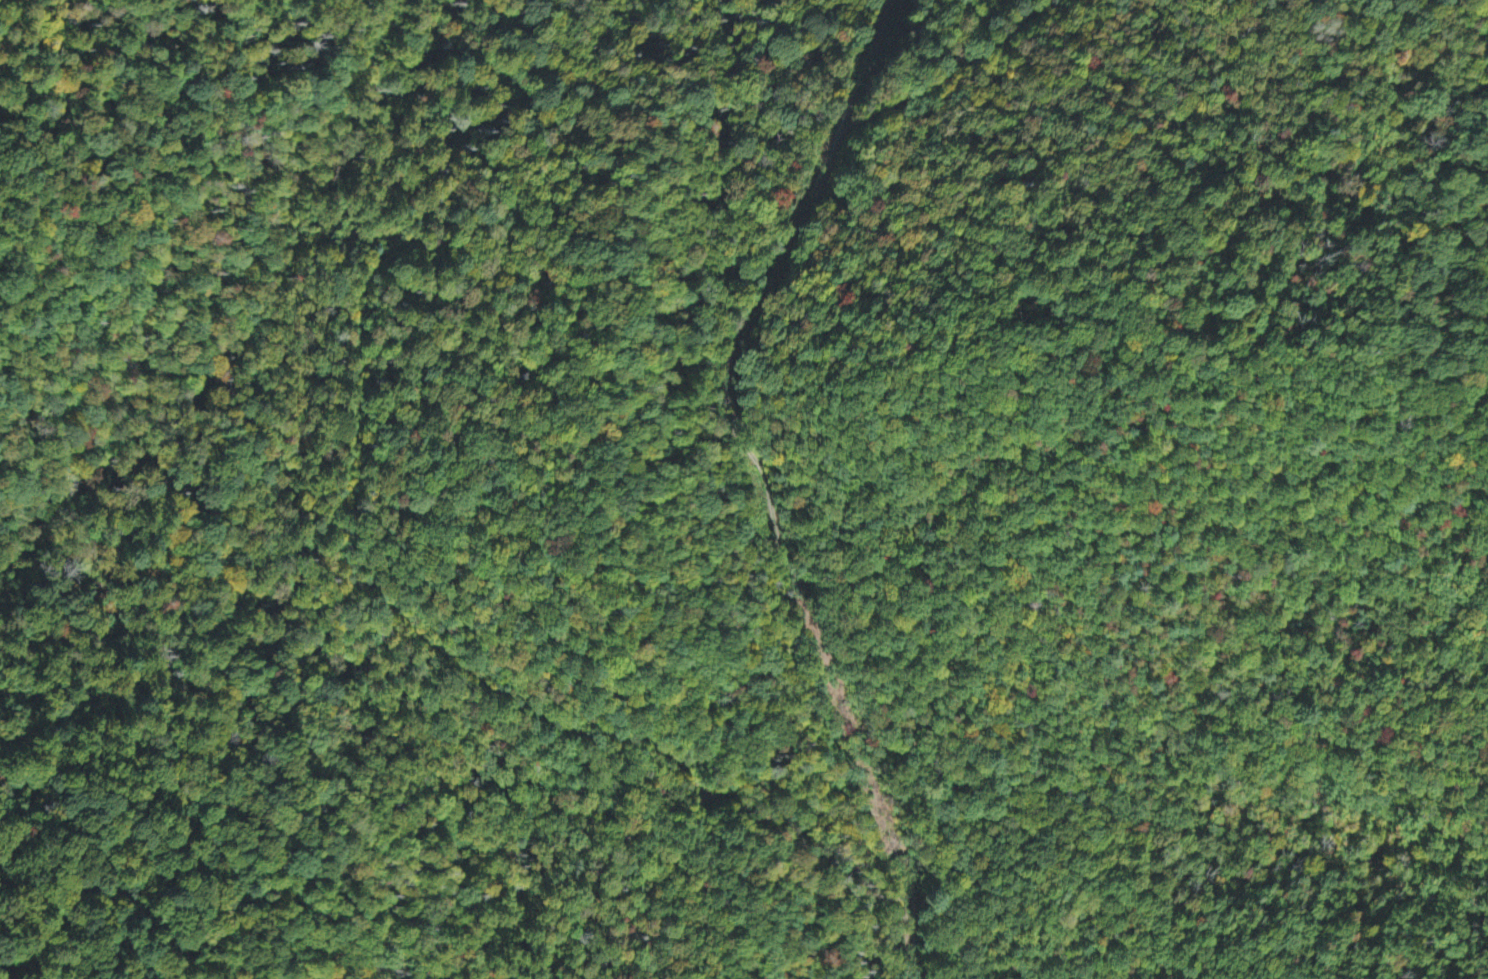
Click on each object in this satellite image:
road: (1252, 201)
road: (729, 339)
road: (680, 833)
road: (852, 882)

